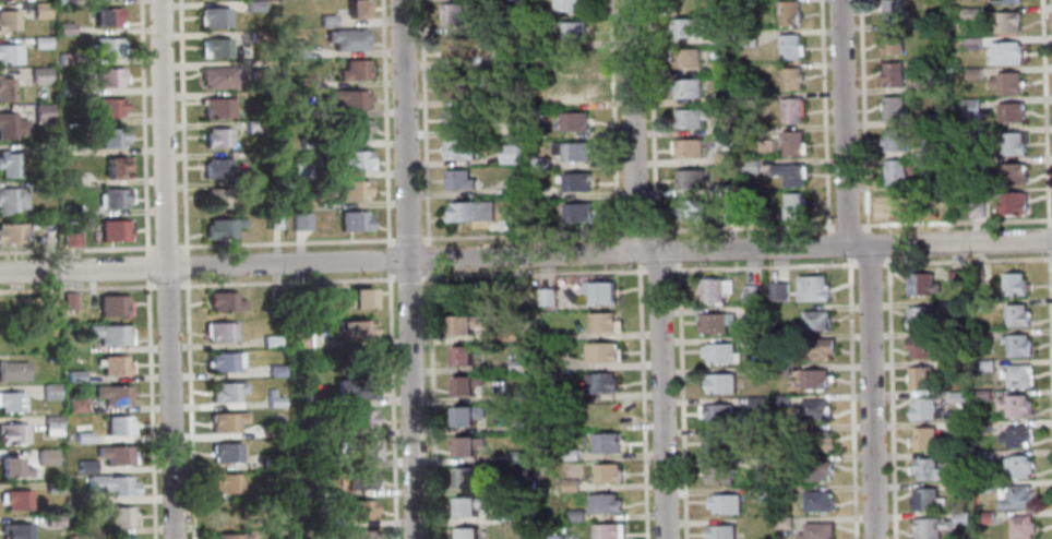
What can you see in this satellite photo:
building: (62, 1)
building: (690, 2)
building: (1005, 2)
building: (570, 4)
building: (251, 5)
building: (358, 9)
building: (39, 11)
building: (892, 11)
building: (538, 12)
building: (788, 13)
building: (971, 13)
building: (452, 14)
building: (214, 15)
building: (106, 17)
building: (324, 20)
building: (7, 21)
building: (1006, 22)
building: (684, 27)
building: (63, 28)
building: (571, 31)
building: (255, 35)
building: (719, 36)
building: (346, 38)
building: (746, 38)
building: (540, 40)
building: (39, 43)
building: (892, 43)
building: (971, 44)
building: (104, 47)
building: (216, 47)
building: (462, 47)
building: (790, 47)
building: (294, 48)
building: (1004, 52)
building: (9, 55)
building: (684, 58)
building: (64, 59)
building: (497, 59)
building: (576, 63)
building: (351, 68)
building: (719, 69)
building: (972, 73)
building: (39, 74)
building: (892, 75)
building: (216, 76)
building: (109, 77)
building: (256, 77)
building: (790, 79)
building: (302, 82)
building: (1005, 84)
building: (923, 85)
building: (4, 88)
building: (686, 88)
building: (65, 89)
building: (455, 91)
building: (579, 92)
building: (350, 97)
building: (536, 97)
building: (721, 98)
building: (749, 99)
building: (109, 106)
building: (218, 107)
building: (892, 108)
building: (969, 108)
building: (791, 110)
building: (40, 111)
building: (1009, 111)
building: (303, 112)
road: (1043, 112)
road: (822, 116)
road: (861, 116)
building: (690, 118)
building: (925, 118)
building: (459, 119)
road: (650, 119)
road: (612, 120)
building: (573, 121)
road: (384, 122)
road: (842, 122)
road: (422, 123)
building: (10, 125)
building: (252, 125)
road: (632, 125)
road: (142, 127)
road: (181, 127)
building: (352, 128)
building: (722, 128)
building: (972, 134)
building: (111, 137)
building: (218, 137)
building: (893, 140)
building: (754, 142)
building: (304, 143)
building: (792, 143)
building: (1009, 144)
building: (929, 146)
building: (67, 148)
building: (689, 148)
building: (457, 151)
building: (571, 152)
building: (509, 154)
building: (722, 158)
building: (349, 159)
building: (539, 164)
building: (8, 165)
building: (972, 165)
building: (113, 166)
building: (750, 166)
building: (218, 167)
building: (298, 169)
building: (894, 171)
building: (789, 173)
building: (1012, 173)
building: (68, 178)
building: (690, 179)
building: (457, 180)
building: (575, 182)
building: (38, 185)
building: (515, 185)
building: (351, 189)
building: (720, 189)
building: (113, 196)
building: (220, 197)
building: (10, 200)
building: (308, 202)
building: (793, 204)
building: (895, 204)
building: (1012, 204)
building: (940, 208)
building: (975, 208)
building: (690, 209)
building: (69, 211)
building: (470, 212)
building: (752, 212)
building: (576, 213)
building: (728, 214)
building: (272, 219)
building: (354, 219)
building: (302, 220)
road: (954, 221)
building: (516, 223)
building: (536, 223)
building: (223, 227)
road: (845, 227)
road: (739, 229)
building: (113, 230)
building: (10, 232)
road: (634, 233)
road: (521, 236)
building: (70, 237)
road: (407, 239)
road: (1047, 239)
road: (286, 242)
road: (875, 243)
road: (836, 244)
road: (852, 244)
road: (165, 245)
road: (76, 248)
road: (664, 251)
road: (625, 252)
road: (645, 252)
road: (387, 257)
road: (427, 257)
road: (318, 261)
road: (965, 261)
road: (866, 264)
road: (187, 265)
road: (146, 266)
road: (761, 266)
road: (408, 268)
road: (166, 269)
road: (657, 271)
road: (533, 274)
building: (976, 274)
road: (408, 277)
building: (955, 278)
road: (288, 280)
building: (920, 284)
building: (1013, 284)
road: (166, 285)
road: (76, 288)
building: (714, 289)
building: (800, 289)
building: (602, 290)
building: (459, 294)
building: (752, 294)
building: (274, 295)
building: (297, 296)
building: (545, 296)
building: (358, 297)
building: (68, 300)
building: (223, 301)
building: (981, 304)
building: (111, 306)
building: (3, 310)
building: (752, 313)
building: (1016, 315)
building: (919, 318)
building: (814, 320)
building: (602, 322)
building: (714, 322)
building: (463, 323)
building: (352, 328)
building: (218, 331)
building: (109, 333)
building: (509, 333)
building: (298, 339)
building: (271, 340)
road: (1049, 340)
building: (754, 344)
building: (1017, 346)
building: (920, 347)
building: (816, 348)
building: (601, 351)
building: (719, 352)
building: (461, 355)
building: (223, 360)
building: (113, 364)
building: (516, 364)
building: (983, 364)
building: (958, 367)
building: (12, 370)
building: (275, 370)
building: (755, 372)
building: (778, 372)
building: (74, 375)
building: (1017, 375)
building: (921, 378)
building: (813, 379)
building: (598, 382)
road: (679, 382)
building: (719, 383)
building: (465, 384)
building: (352, 387)
building: (225, 391)
road: (869, 391)
building: (49, 392)
building: (112, 393)
building: (558, 393)
building: (522, 395)
road: (658, 395)
building: (982, 395)
road: (850, 397)
road: (889, 397)
building: (957, 397)
building: (273, 399)
building: (306, 399)
building: (11, 400)
road: (641, 400)
building: (780, 400)
building: (754, 403)
building: (75, 404)
road: (391, 404)
road: (431, 404)
building: (1014, 406)
road: (150, 408)
road: (189, 408)
building: (814, 409)
building: (924, 409)
building: (719, 414)
building: (465, 415)
building: (360, 418)
building: (225, 421)
building: (51, 424)
building: (118, 424)
building: (522, 426)
building: (958, 427)
building: (983, 427)
building: (753, 431)
building: (275, 432)
building: (12, 433)
building: (82, 436)
building: (1015, 436)
building: (924, 438)
building: (816, 441)
building: (603, 442)
building: (715, 443)
building: (466, 444)
building: (363, 447)
building: (225, 452)
building: (116, 454)
building: (569, 454)
building: (44, 456)
building: (515, 456)
building: (983, 456)
building: (958, 458)
building: (270, 460)
building: (301, 460)
building: (781, 462)
building: (756, 465)
building: (84, 466)
building: (1018, 466)
building: (11, 467)
building: (927, 469)
building: (816, 470)
building: (279, 472)
building: (606, 472)
building: (717, 474)
building: (464, 476)
building: (359, 479)
building: (227, 483)
building: (110, 484)
building: (569, 484)
building: (52, 487)
building: (983, 487)
building: (958, 488)
building: (308, 490)
building: (782, 491)
building: (758, 492)
building: (1016, 496)
building: (15, 499)
building: (927, 499)
building: (816, 501)
building: (602, 503)
building: (468, 504)
building: (724, 504)
building: (358, 508)
building: (524, 513)
building: (226, 514)
building: (120, 515)
building: (573, 515)
building: (960, 517)
building: (985, 517)
building: (52, 520)
road: (683, 520)
building: (320, 522)
building: (782, 522)
building: (1020, 527)
building: (929, 528)
building: (15, 530)
building: (816, 530)
building: (608, 531)
building: (719, 531)
building: (466, 532)
building: (360, 535)
building: (232, 536)
building: (120, 537)
building: (553, 537)

